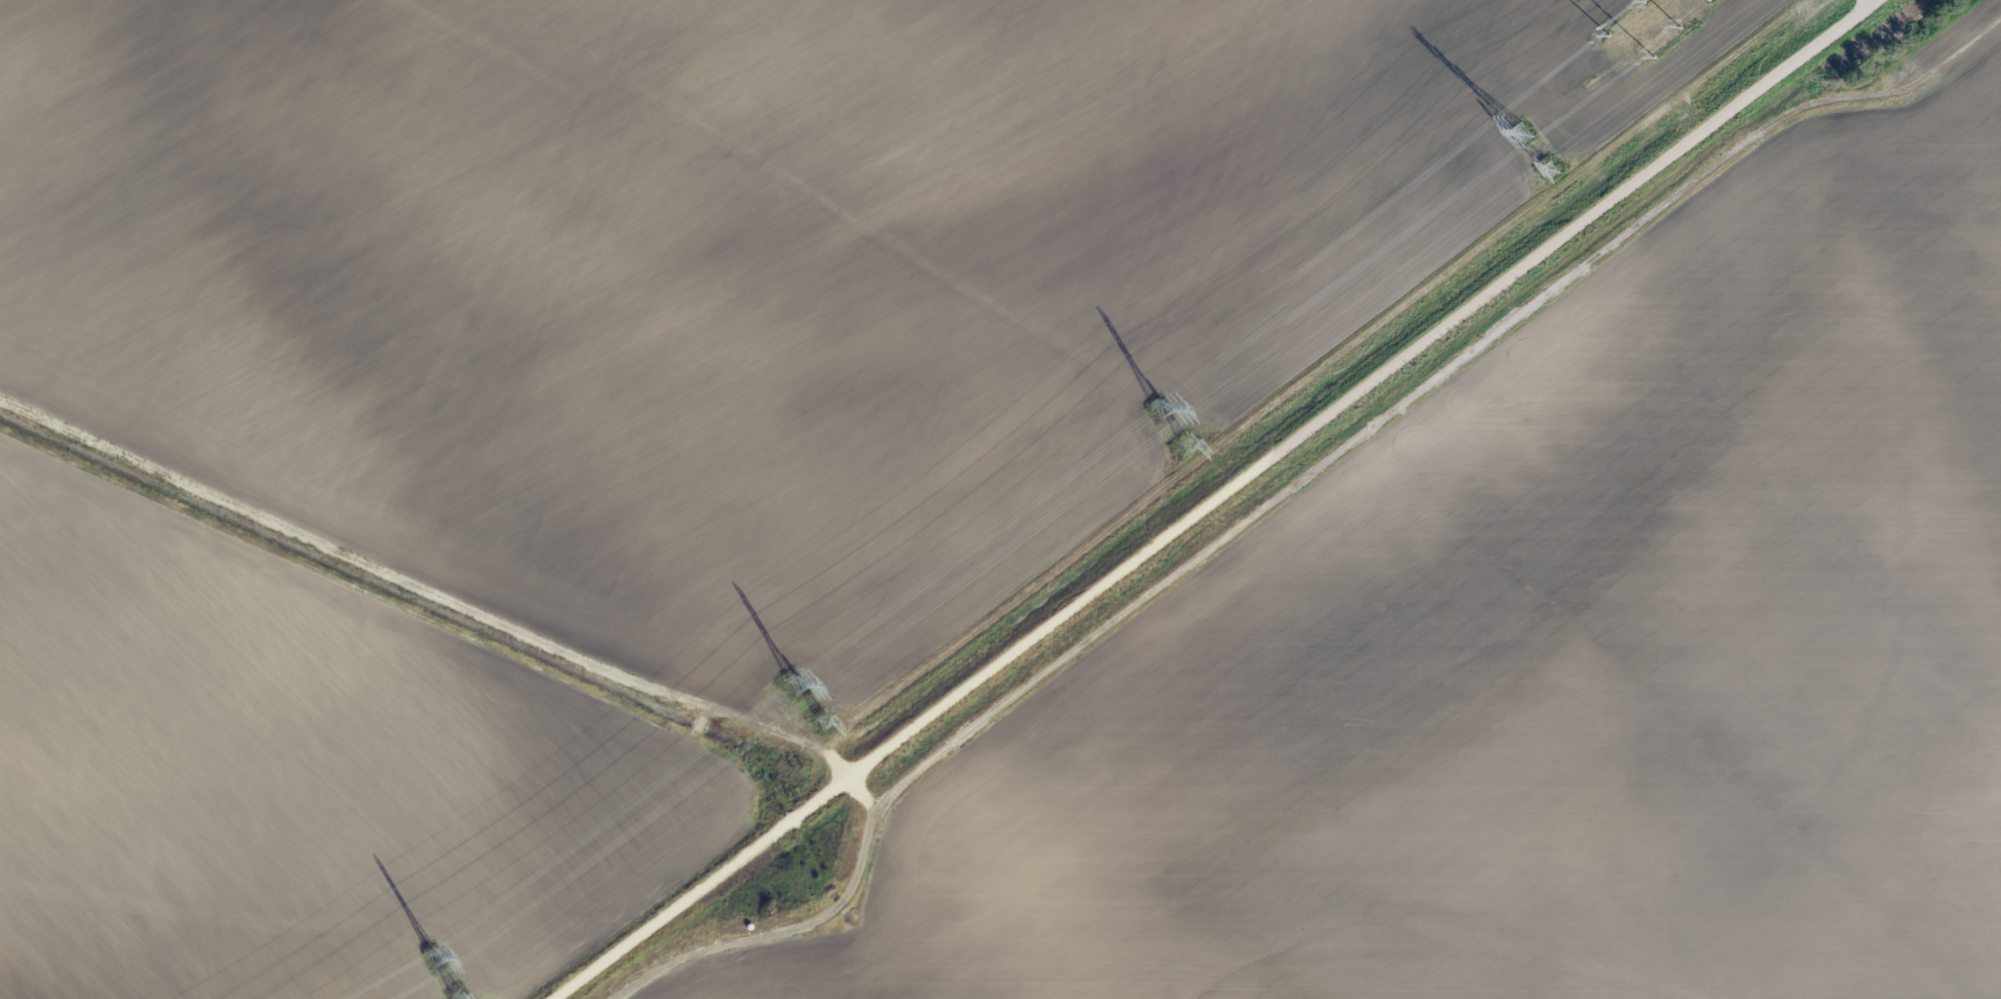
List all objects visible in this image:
power tower: (1521, 133)
power tower: (1549, 168)
power tower: (1161, 409)
power tower: (1183, 445)
railway: (1217, 494)
power tower: (794, 686)
power tower: (820, 721)
power tower: (433, 958)
railway: (592, 962)

